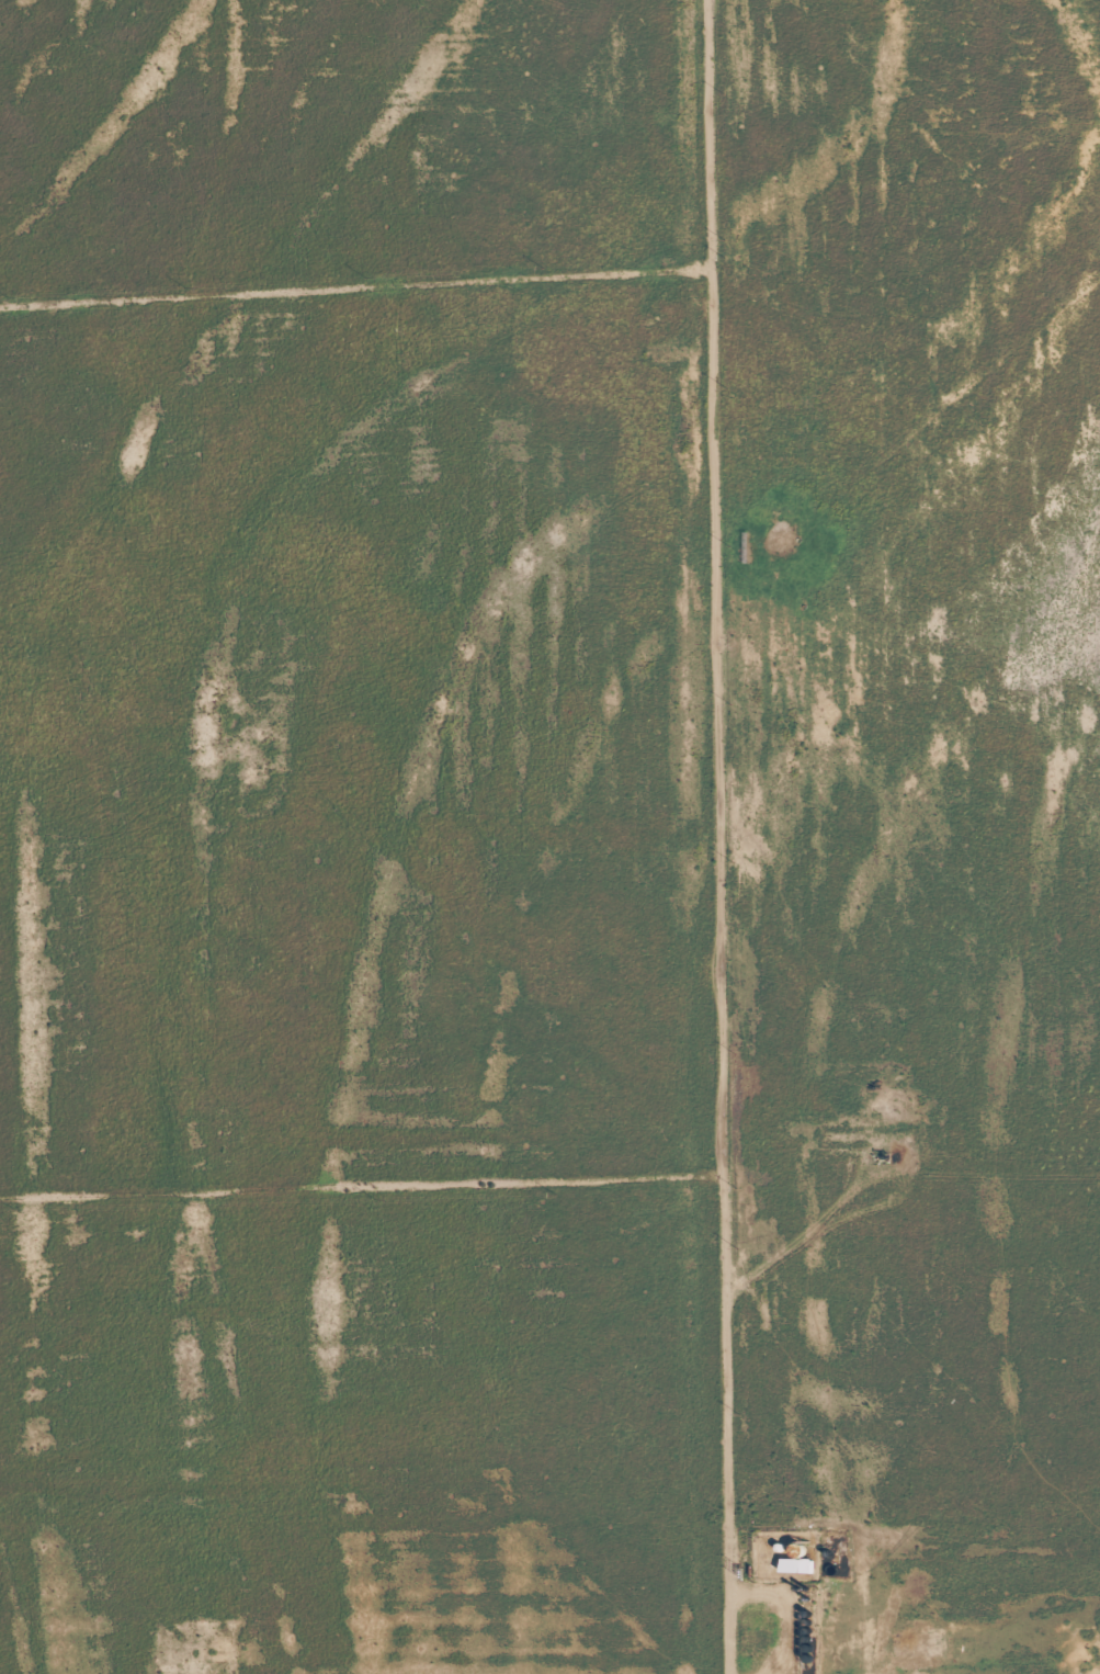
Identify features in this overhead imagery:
road: (714, 837)
road: (178, 1221)

